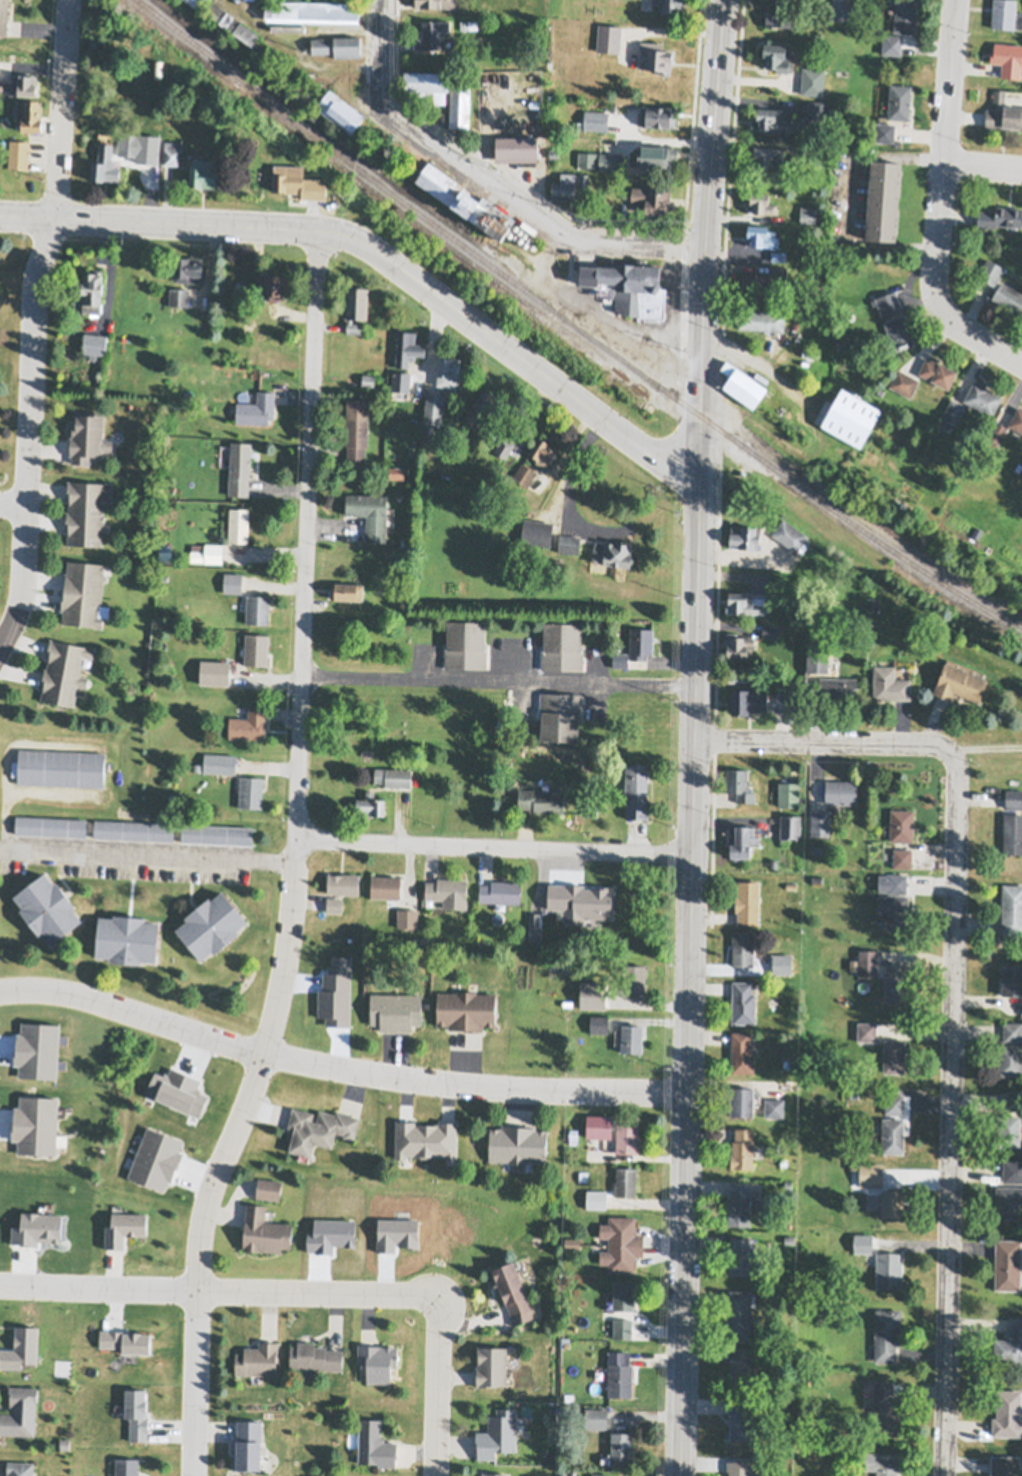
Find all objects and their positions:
building: (252, 0)
building: (197, 2)
building: (436, 2)
building: (670, 4)
building: (313, 7)
building: (843, 9)
building: (779, 13)
building: (1003, 13)
building: (905, 15)
building: (3, 16)
building: (234, 22)
building: (470, 23)
building: (433, 31)
building: (609, 36)
building: (338, 44)
building: (892, 44)
road: (385, 52)
building: (655, 55)
building: (778, 56)
building: (1008, 58)
building: (157, 67)
building: (813, 80)
building: (21, 83)
building: (427, 83)
building: (999, 94)
building: (899, 100)
building: (460, 102)
building: (341, 109)
building: (818, 109)
building: (29, 112)
building: (658, 114)
building: (1005, 116)
building: (771, 117)
building: (595, 118)
building: (884, 131)
building: (128, 143)
building: (517, 146)
building: (819, 149)
building: (172, 150)
building: (554, 150)
building: (18, 153)
building: (656, 154)
building: (769, 155)
building: (587, 157)
building: (610, 160)
building: (104, 163)
road: (983, 165)
building: (205, 171)
building: (288, 176)
building: (583, 179)
building: (820, 179)
building: (564, 185)
building: (317, 189)
building: (652, 197)
building: (466, 198)
road: (842, 198)
building: (883, 199)
building: (761, 201)
road: (941, 203)
road: (529, 210)
building: (807, 212)
building: (1000, 216)
building: (761, 235)
building: (778, 254)
road: (383, 258)
building: (188, 268)
building: (990, 270)
building: (761, 280)
building: (273, 283)
building: (629, 285)
building: (92, 291)
building: (179, 295)
building: (1008, 296)
building: (888, 302)
building: (356, 306)
road: (671, 309)
building: (760, 319)
road: (594, 320)
railway: (571, 326)
road: (33, 327)
building: (899, 331)
building: (838, 342)
building: (94, 343)
building: (407, 347)
building: (810, 351)
road: (750, 357)
building: (448, 370)
building: (937, 371)
building: (368, 378)
building: (400, 380)
building: (904, 382)
building: (743, 383)
building: (982, 397)
building: (483, 405)
building: (433, 407)
building: (256, 408)
building: (953, 410)
building: (851, 416)
building: (1016, 419)
building: (945, 426)
building: (357, 427)
building: (428, 429)
building: (997, 431)
building: (513, 432)
building: (87, 436)
building: (504, 445)
building: (535, 459)
building: (239, 467)
building: (396, 472)
road: (13, 505)
building: (86, 511)
building: (370, 513)
building: (238, 524)
building: (976, 531)
building: (537, 532)
building: (788, 534)
building: (744, 535)
building: (569, 543)
building: (165, 552)
building: (207, 552)
building: (613, 552)
building: (233, 581)
building: (347, 590)
building: (84, 593)
building: (745, 602)
building: (258, 609)
building: (770, 630)
building: (465, 644)
building: (738, 644)
building: (562, 646)
building: (635, 646)
building: (256, 649)
building: (816, 659)
building: (64, 671)
building: (214, 672)
road: (499, 678)
building: (959, 681)
building: (890, 684)
building: (838, 687)
building: (748, 701)
building: (785, 701)
building: (560, 715)
building: (248, 724)
building: (501, 725)
road: (33, 736)
road: (695, 736)
road: (822, 739)
building: (220, 762)
building: (61, 767)
building: (393, 776)
building: (739, 784)
road: (44, 787)
building: (636, 790)
building: (250, 791)
building: (841, 792)
building: (788, 794)
building: (1014, 798)
building: (541, 800)
building: (370, 805)
building: (591, 812)
building: (820, 821)
building: (51, 825)
building: (902, 825)
building: (789, 827)
building: (133, 829)
building: (217, 833)
building: (1013, 833)
building: (741, 841)
road: (492, 847)
road: (140, 849)
building: (817, 849)
building: (902, 858)
road: (289, 859)
building: (774, 862)
building: (817, 879)
building: (343, 883)
building: (893, 883)
building: (791, 885)
building: (385, 886)
building: (604, 886)
building: (447, 891)
building: (500, 891)
building: (748, 902)
building: (334, 904)
building: (47, 908)
building: (1012, 909)
building: (893, 911)
building: (407, 917)
building: (211, 925)
building: (534, 926)
building: (596, 934)
building: (127, 939)
building: (742, 948)
building: (782, 963)
building: (868, 963)
building: (565, 967)
building: (1011, 980)
building: (633, 981)
building: (895, 983)
building: (865, 984)
building: (592, 995)
building: (742, 1002)
building: (466, 1010)
building: (395, 1011)
building: (599, 1024)
building: (867, 1031)
building: (1012, 1031)
building: (632, 1038)
building: (581, 1039)
building: (742, 1052)
building: (894, 1056)
building: (1009, 1060)
road: (340, 1067)
building: (786, 1086)
building: (853, 1094)
building: (741, 1101)
building: (1013, 1101)
building: (894, 1104)
building: (774, 1107)
road: (954, 1109)
building: (599, 1126)
building: (318, 1129)
building: (1008, 1131)
building: (627, 1134)
building: (573, 1135)
building: (893, 1135)
building: (425, 1139)
building: (517, 1144)
building: (742, 1149)
building: (854, 1164)
building: (1012, 1171)
building: (871, 1174)
building: (583, 1175)
building: (625, 1181)
building: (788, 1185)
building: (268, 1188)
building: (596, 1198)
building: (1008, 1202)
building: (892, 1203)
building: (741, 1204)
building: (123, 1226)
building: (264, 1231)
building: (789, 1238)
building: (862, 1242)
building: (572, 1243)
building: (621, 1244)
building: (741, 1257)
building: (1007, 1265)
building: (888, 1270)
road: (225, 1291)
building: (513, 1293)
building: (623, 1296)
building: (739, 1315)
building: (622, 1328)
building: (886, 1334)
building: (1010, 1342)
building: (314, 1357)
building: (257, 1360)
building: (792, 1360)
building: (377, 1362)
building: (741, 1366)
building: (491, 1367)
building: (619, 1374)
road: (439, 1396)
building: (884, 1408)
building: (20, 1412)
building: (1007, 1413)
building: (595, 1418)
building: (741, 1421)
building: (498, 1434)
building: (65, 1443)
building: (375, 1445)
building: (247, 1446)
building: (621, 1449)
building: (882, 1463)
building: (1005, 1466)
building: (127, 1467)
building: (739, 1468)
building: (20, 1469)
building: (492, 1474)
building: (563, 1474)
building: (600, 1475)

